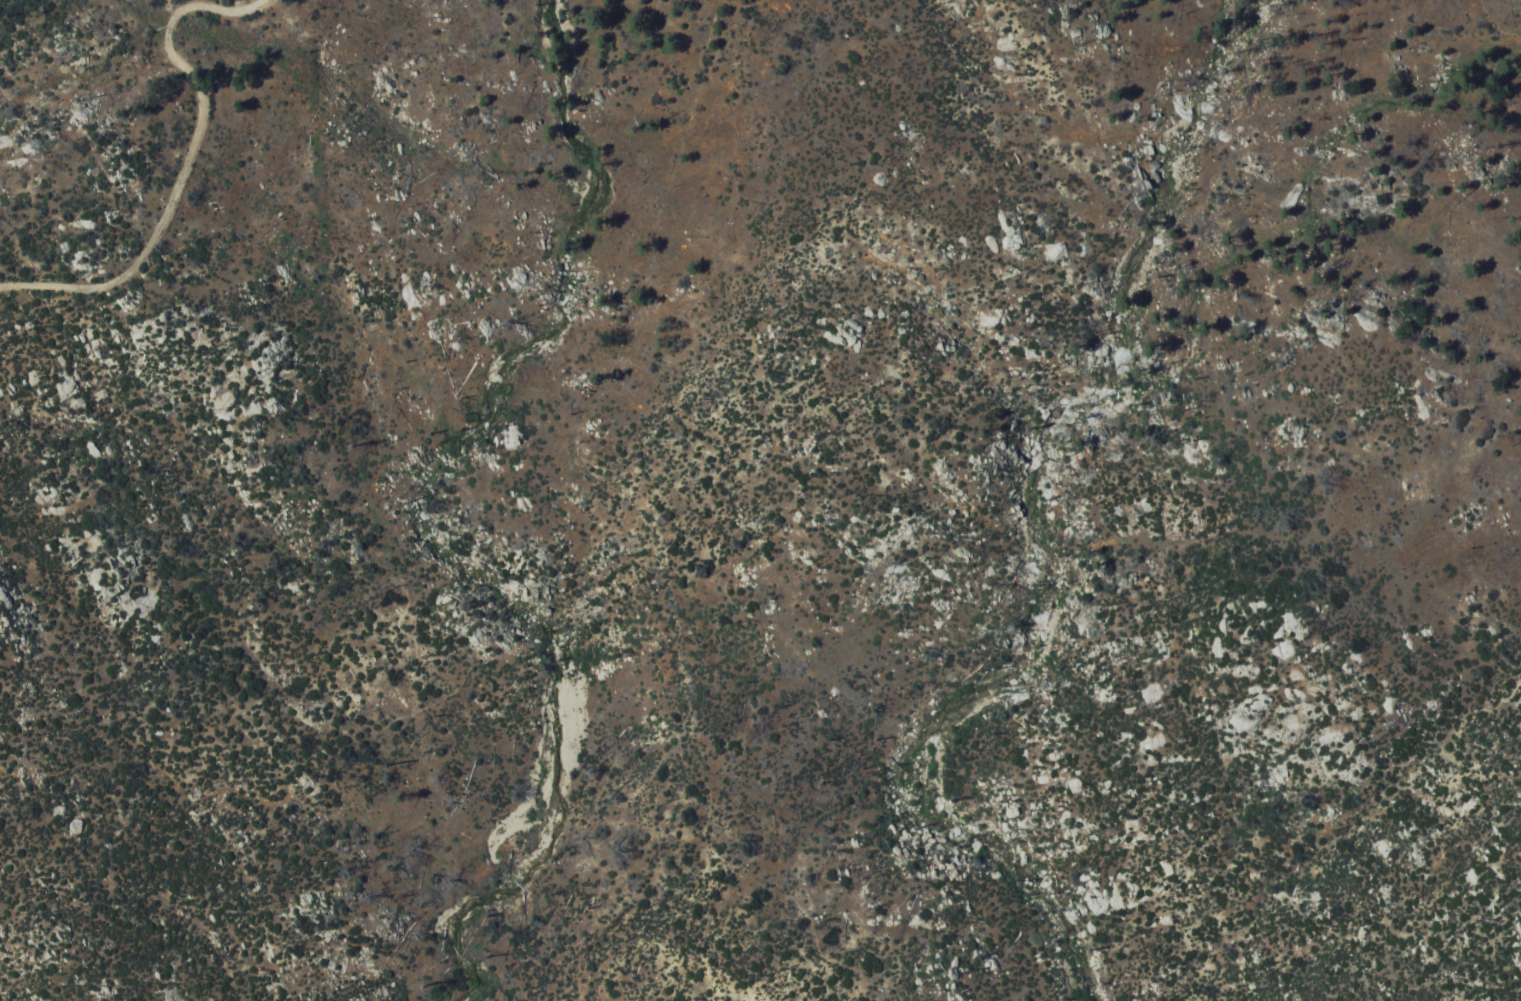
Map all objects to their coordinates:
road: (1499, 25)
road: (183, 164)

